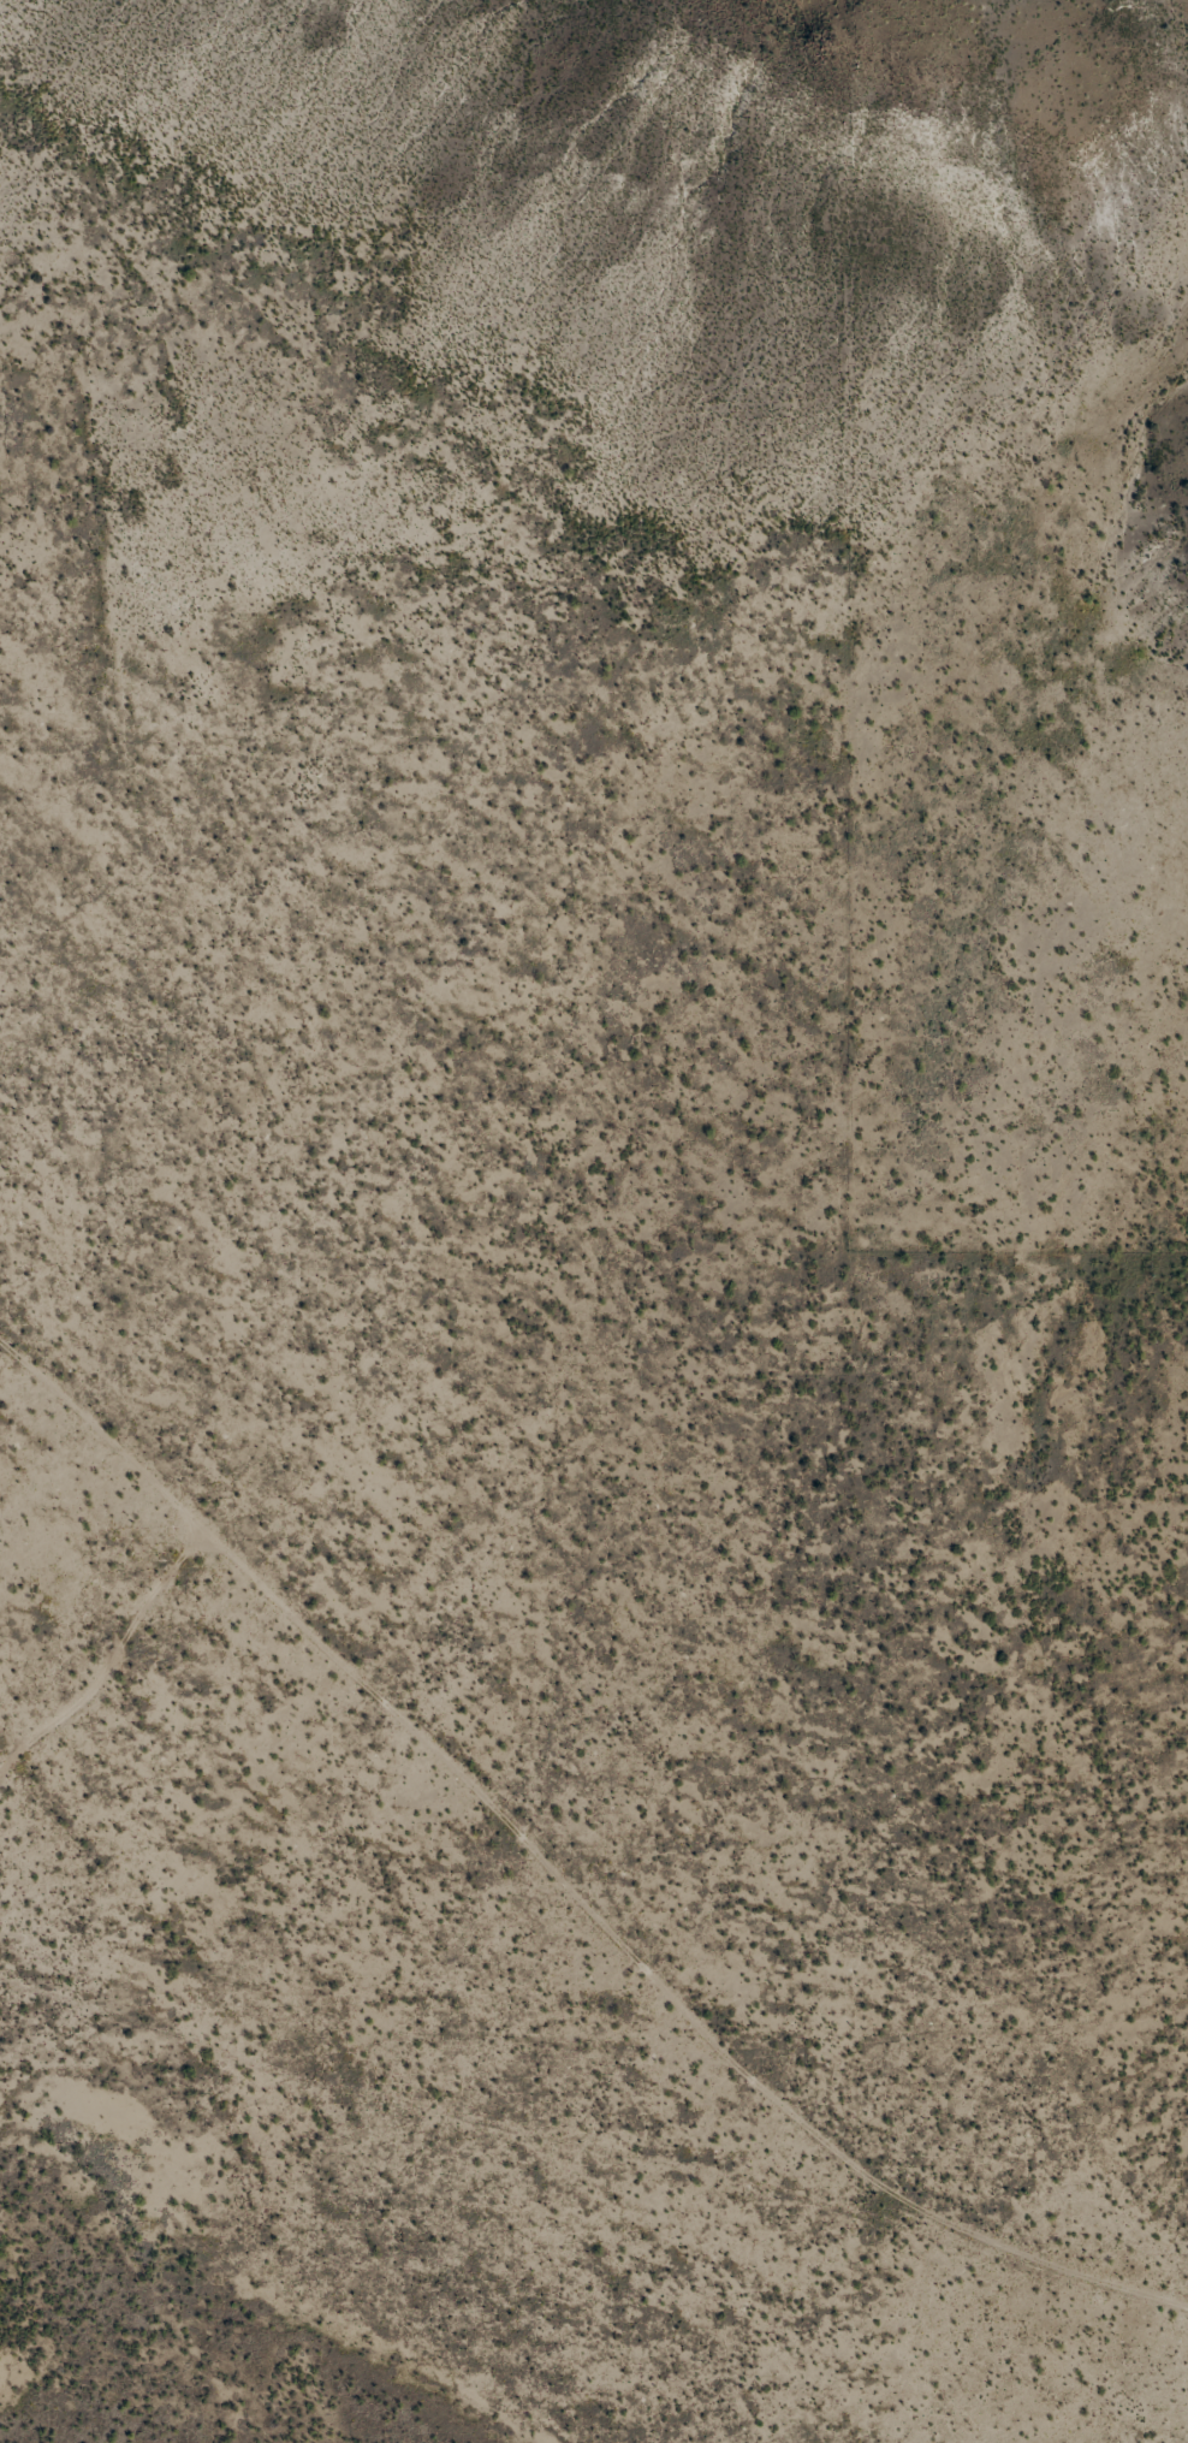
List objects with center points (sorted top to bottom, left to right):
road: (400, 1668)
road: (654, 2040)

